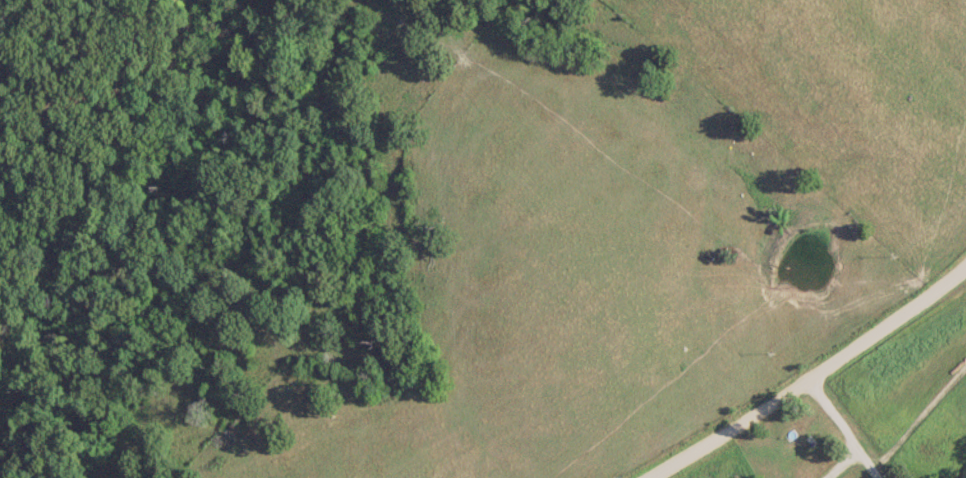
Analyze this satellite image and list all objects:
road: (806, 374)
road: (830, 412)
road: (838, 463)
road: (865, 463)

